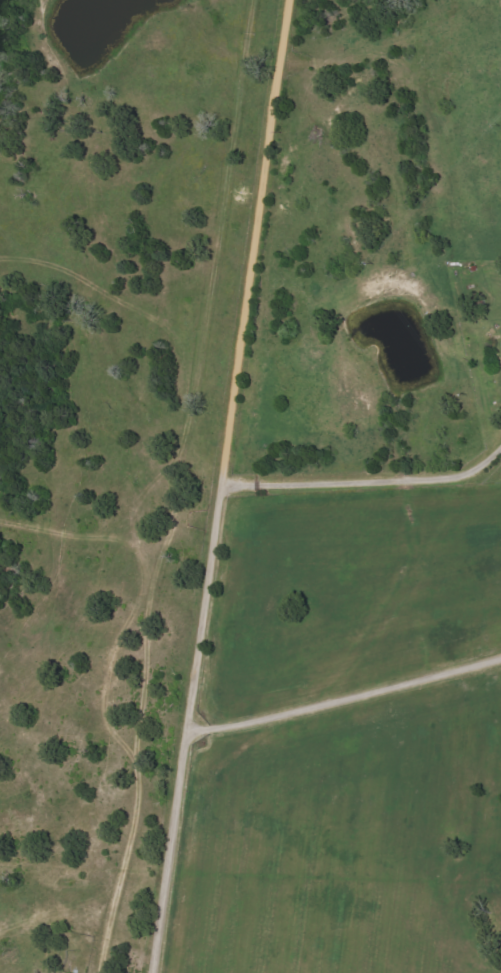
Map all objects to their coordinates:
road: (269, 30)
road: (377, 187)
road: (209, 517)
road: (342, 695)

